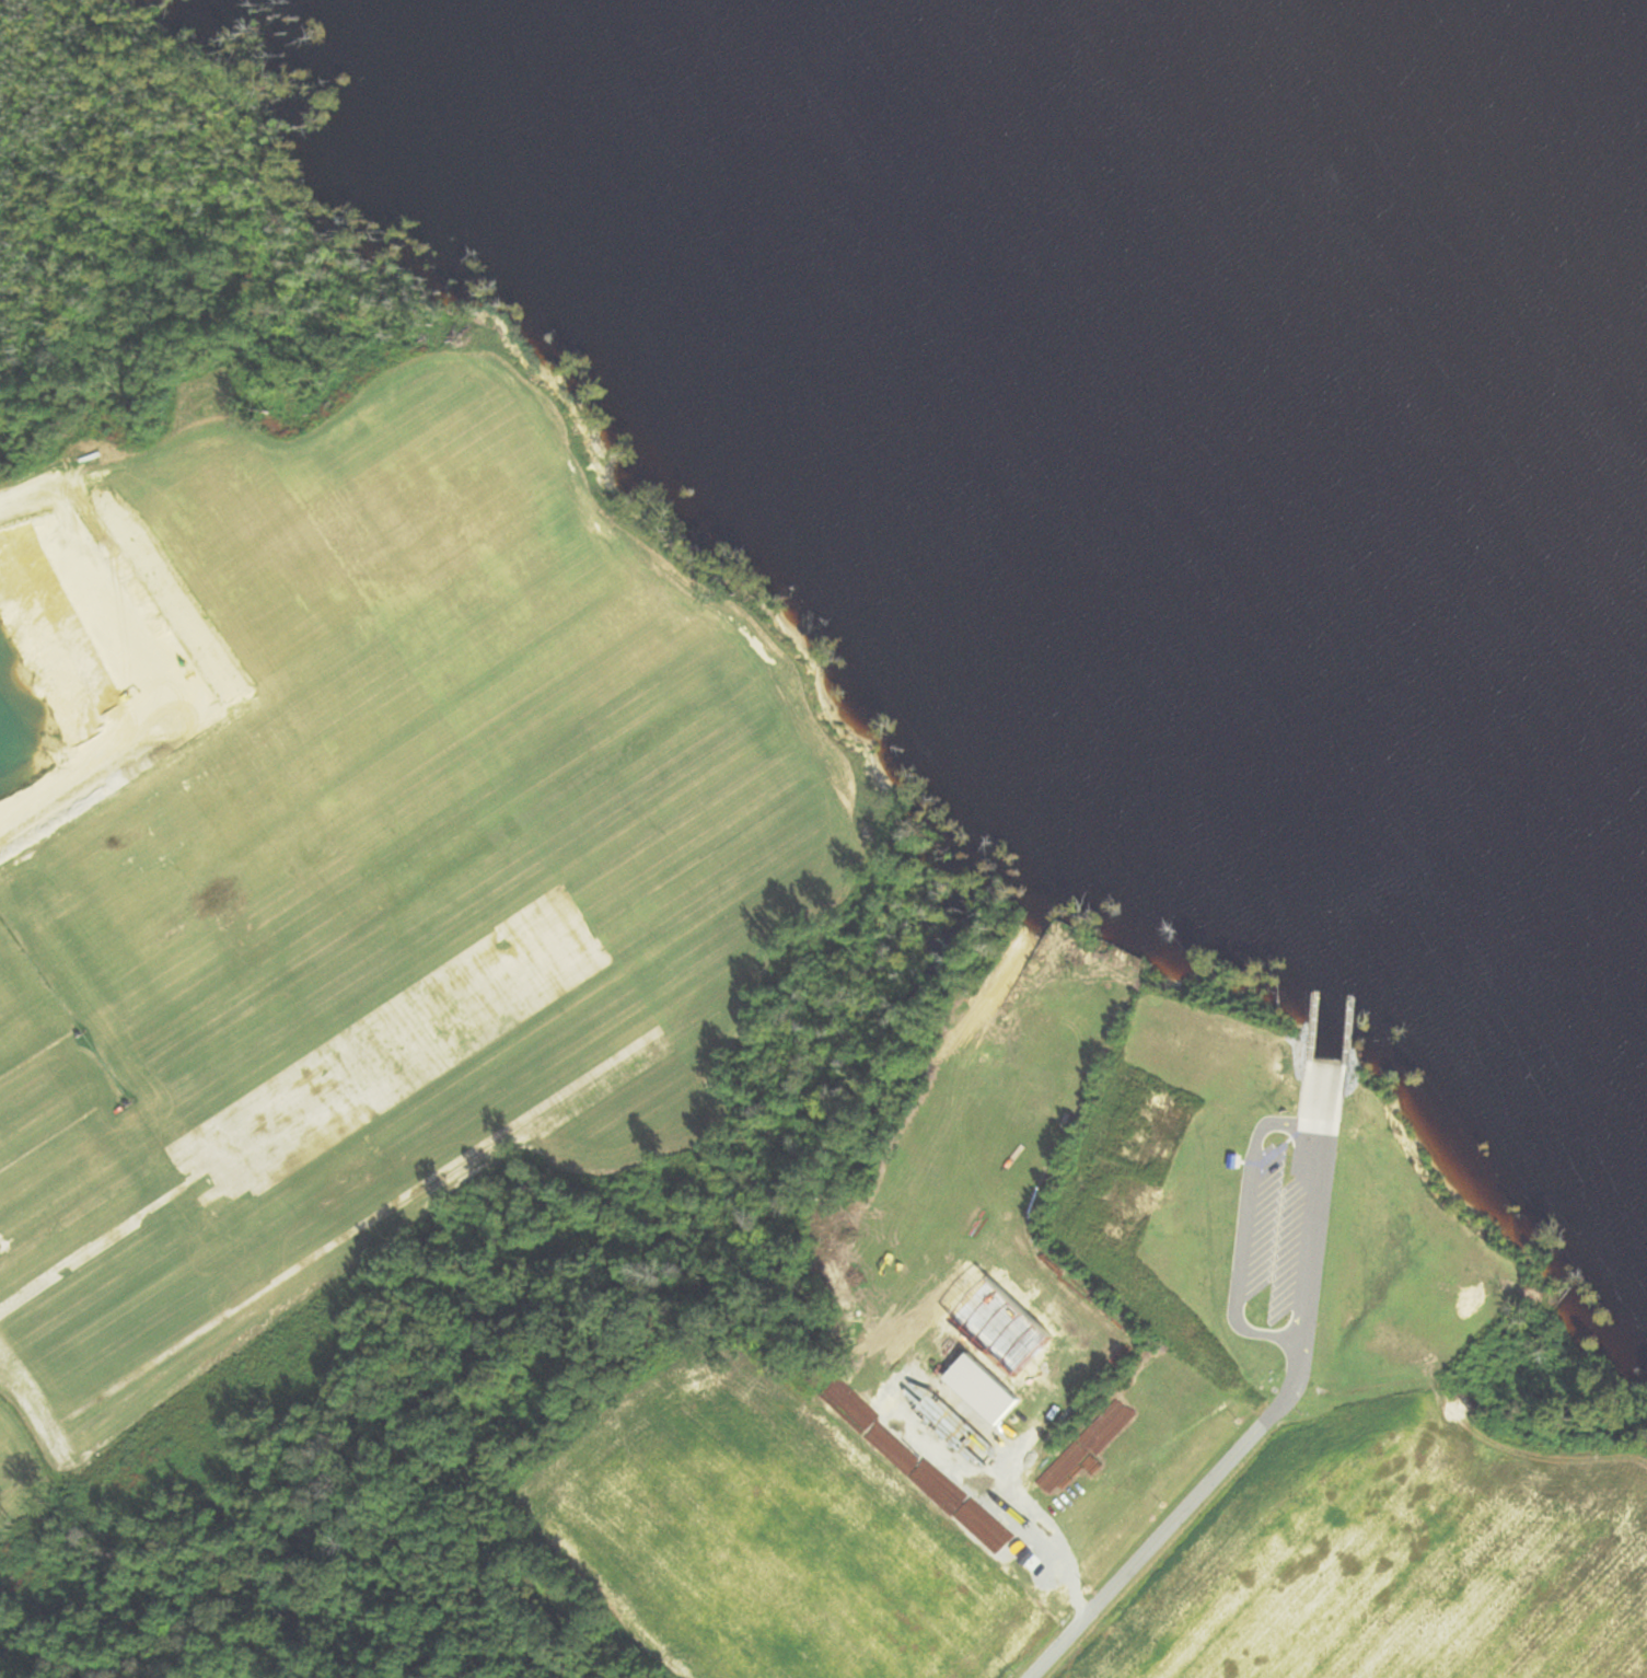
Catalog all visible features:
road: (1262, 1135)
road: (1299, 1365)
building: (985, 1397)
road: (1167, 1535)

